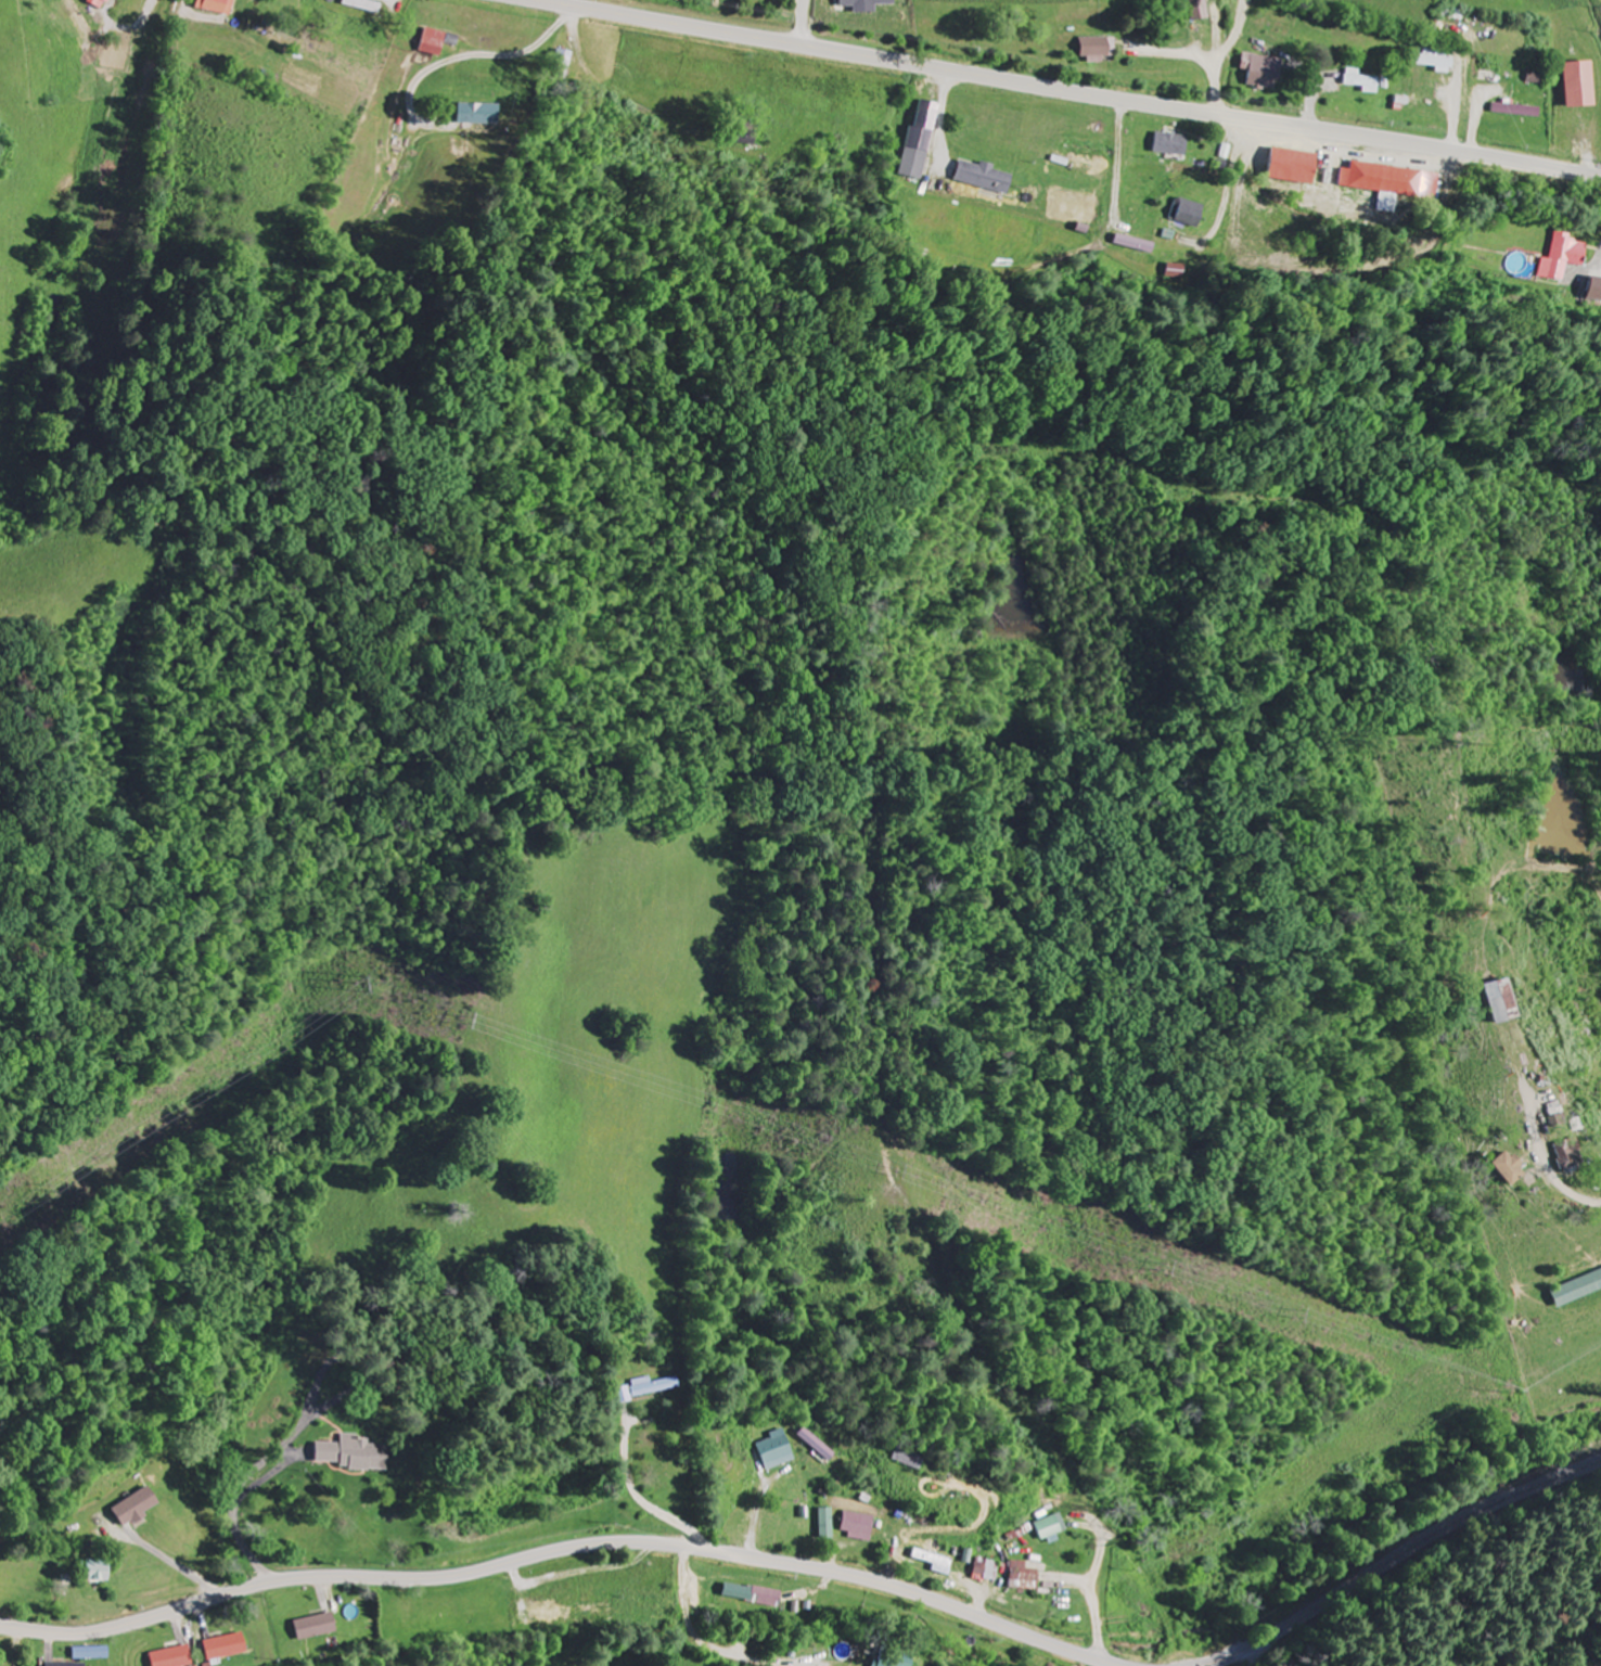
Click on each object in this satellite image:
building: (103, 3)
building: (869, 5)
building: (220, 7)
building: (1203, 11)
road: (805, 22)
building: (436, 43)
building: (1098, 50)
road: (1221, 54)
building: (1436, 63)
building: (1264, 72)
building: (1362, 82)
building: (1584, 86)
road: (1068, 90)
building: (1519, 112)
building: (482, 115)
building: (921, 140)
building: (1174, 144)
building: (1297, 167)
building: (985, 177)
building: (1392, 182)
building: (1190, 215)
building: (1132, 244)
building: (1564, 257)
building: (1597, 287)
building: (1504, 1003)
building: (1566, 1155)
building: (1512, 1170)
building: (648, 1388)
road: (1026, 1430)
building: (818, 1445)
building: (778, 1451)
building: (353, 1454)
building: (907, 1460)
building: (138, 1508)
building: (830, 1524)
building: (861, 1526)
building: (1054, 1527)
road: (565, 1549)
road: (1400, 1555)
building: (938, 1562)
building: (989, 1571)
building: (98, 1572)
building: (1027, 1577)
building: (755, 1595)
building: (316, 1627)
building: (226, 1649)
road: (1260, 1653)
building: (172, 1657)
building: (892, 1661)
building: (65, 1665)

